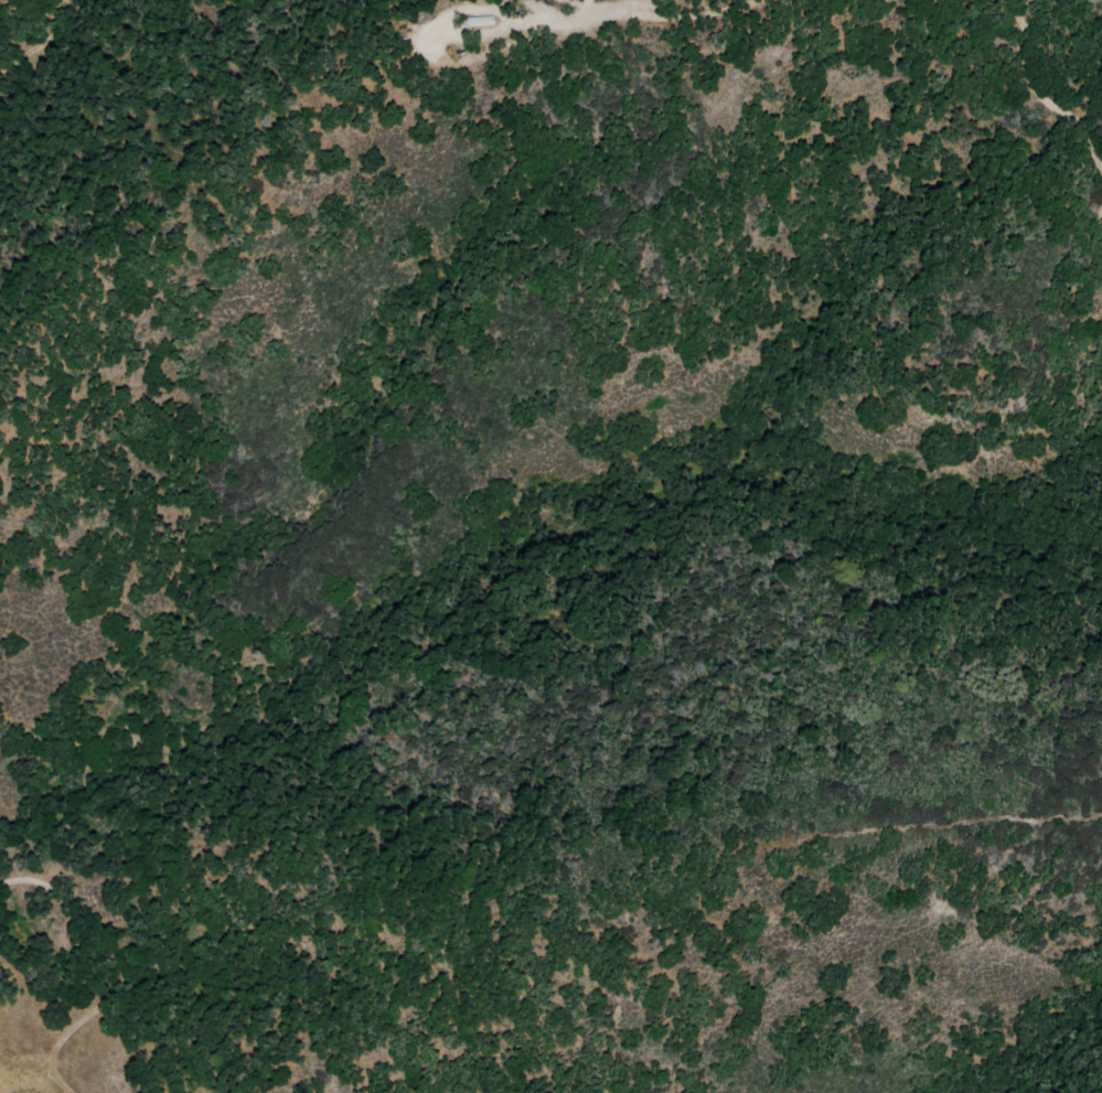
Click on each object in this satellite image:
road: (1026, 14)
road: (668, 15)
road: (557, 20)
building: (484, 21)
road: (41, 36)
road: (1036, 97)
road: (931, 826)

